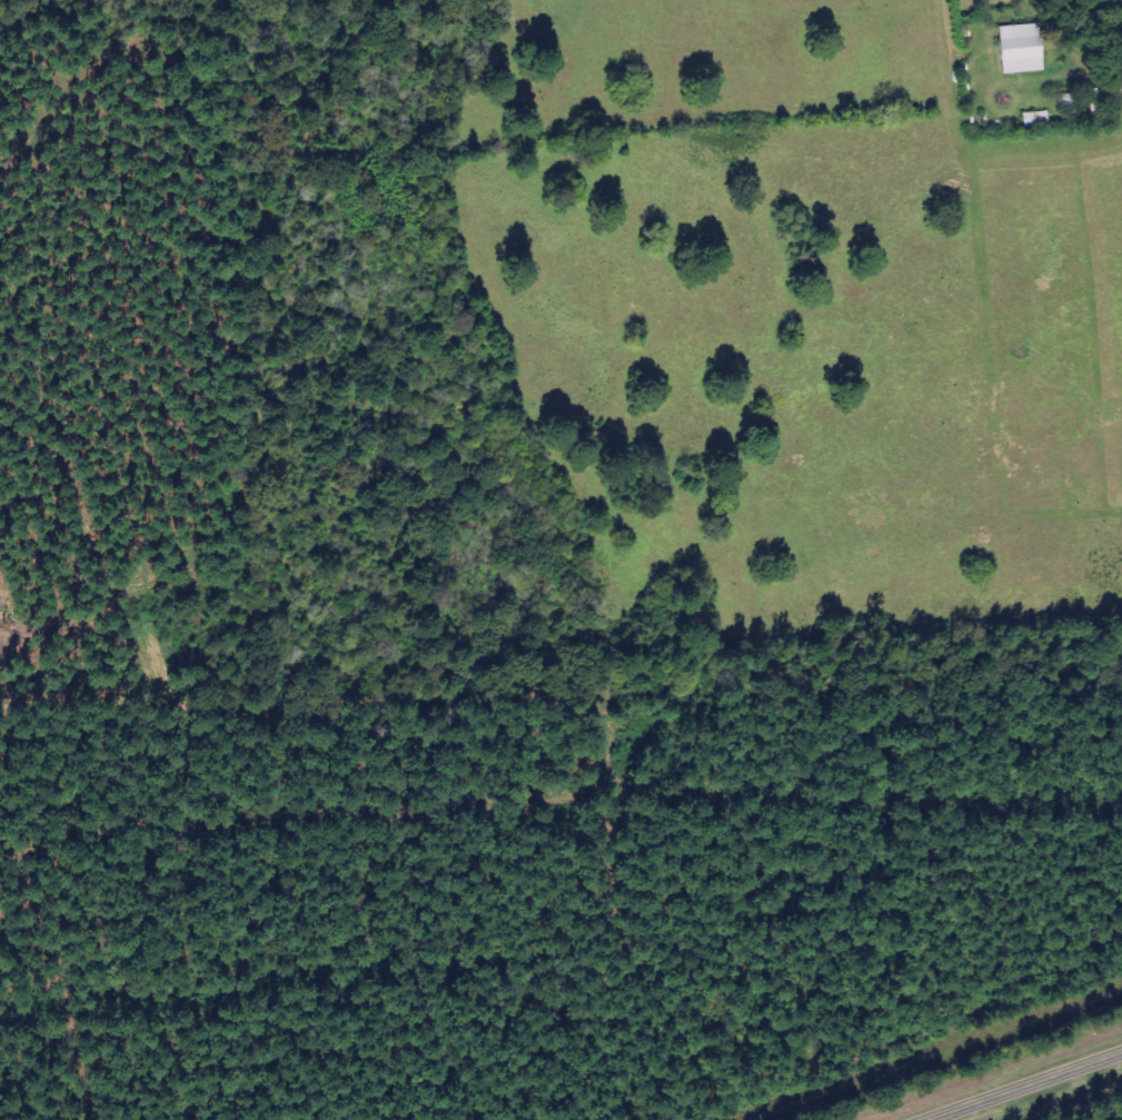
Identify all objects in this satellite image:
building: (1017, 49)
road: (1055, 204)
road: (871, 727)
road: (1024, 1086)

